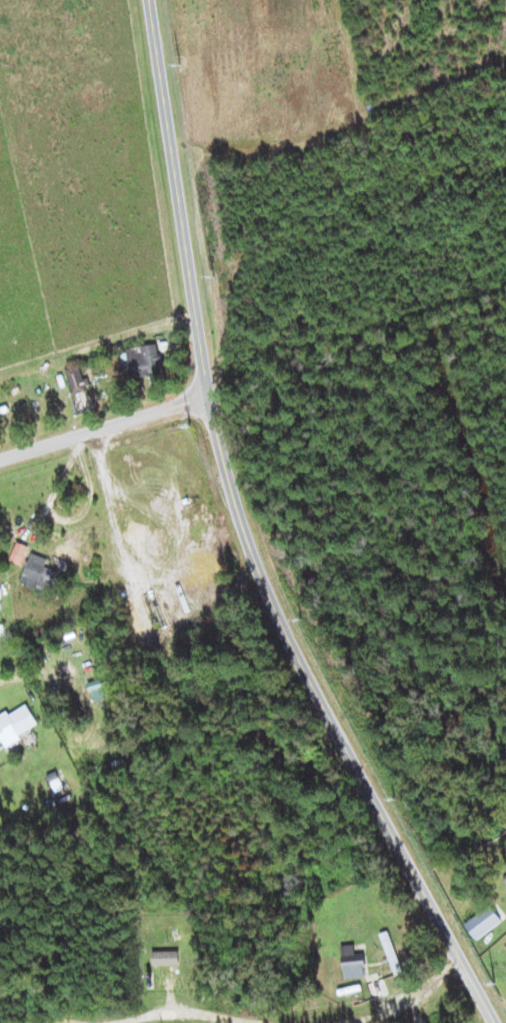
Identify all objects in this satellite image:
building: (145, 360)
building: (77, 378)
road: (104, 429)
road: (244, 537)
building: (19, 552)
building: (37, 571)
road: (8, 680)
building: (17, 724)
building: (483, 922)
building: (354, 964)
road: (403, 1003)
road: (161, 1015)

